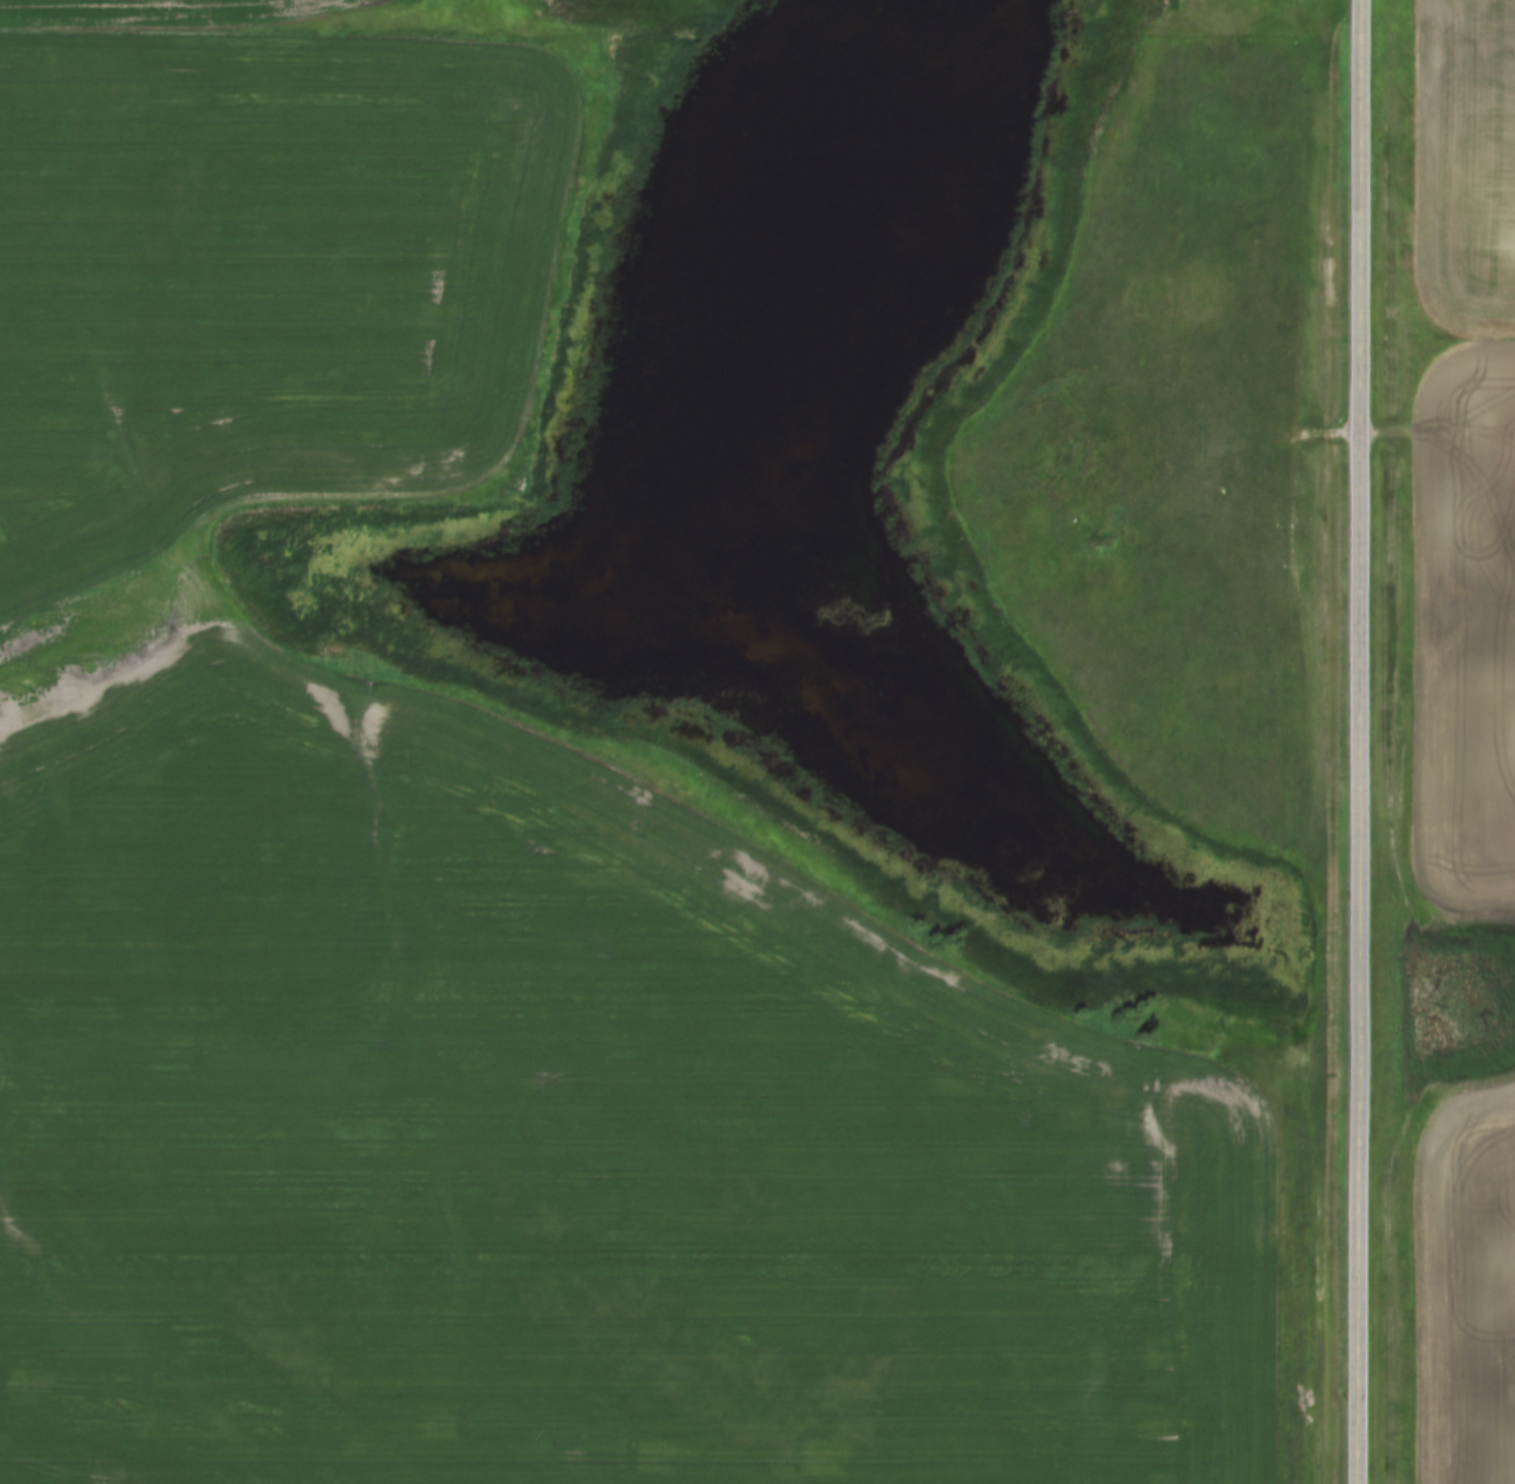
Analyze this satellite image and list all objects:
road: (1358, 742)

